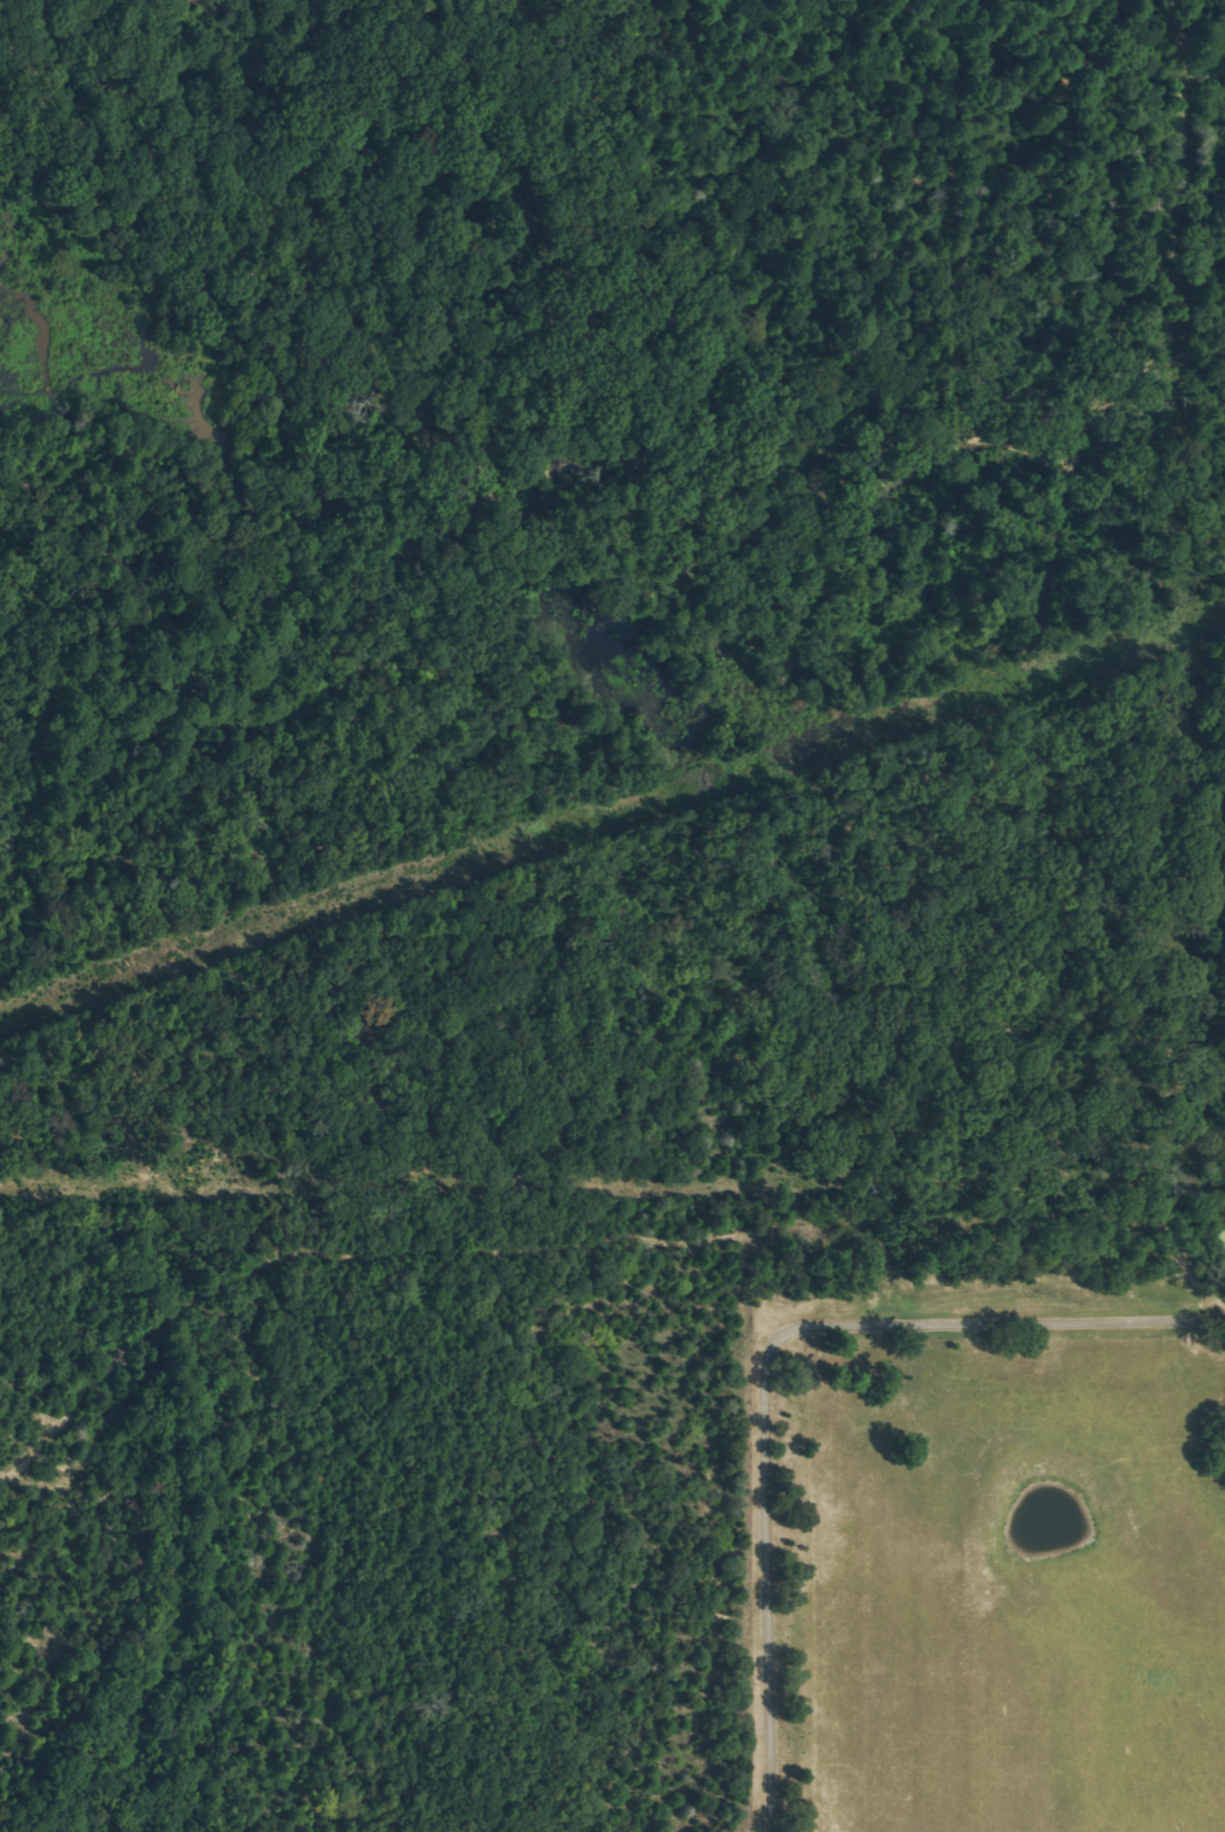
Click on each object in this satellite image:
road: (768, 1359)

